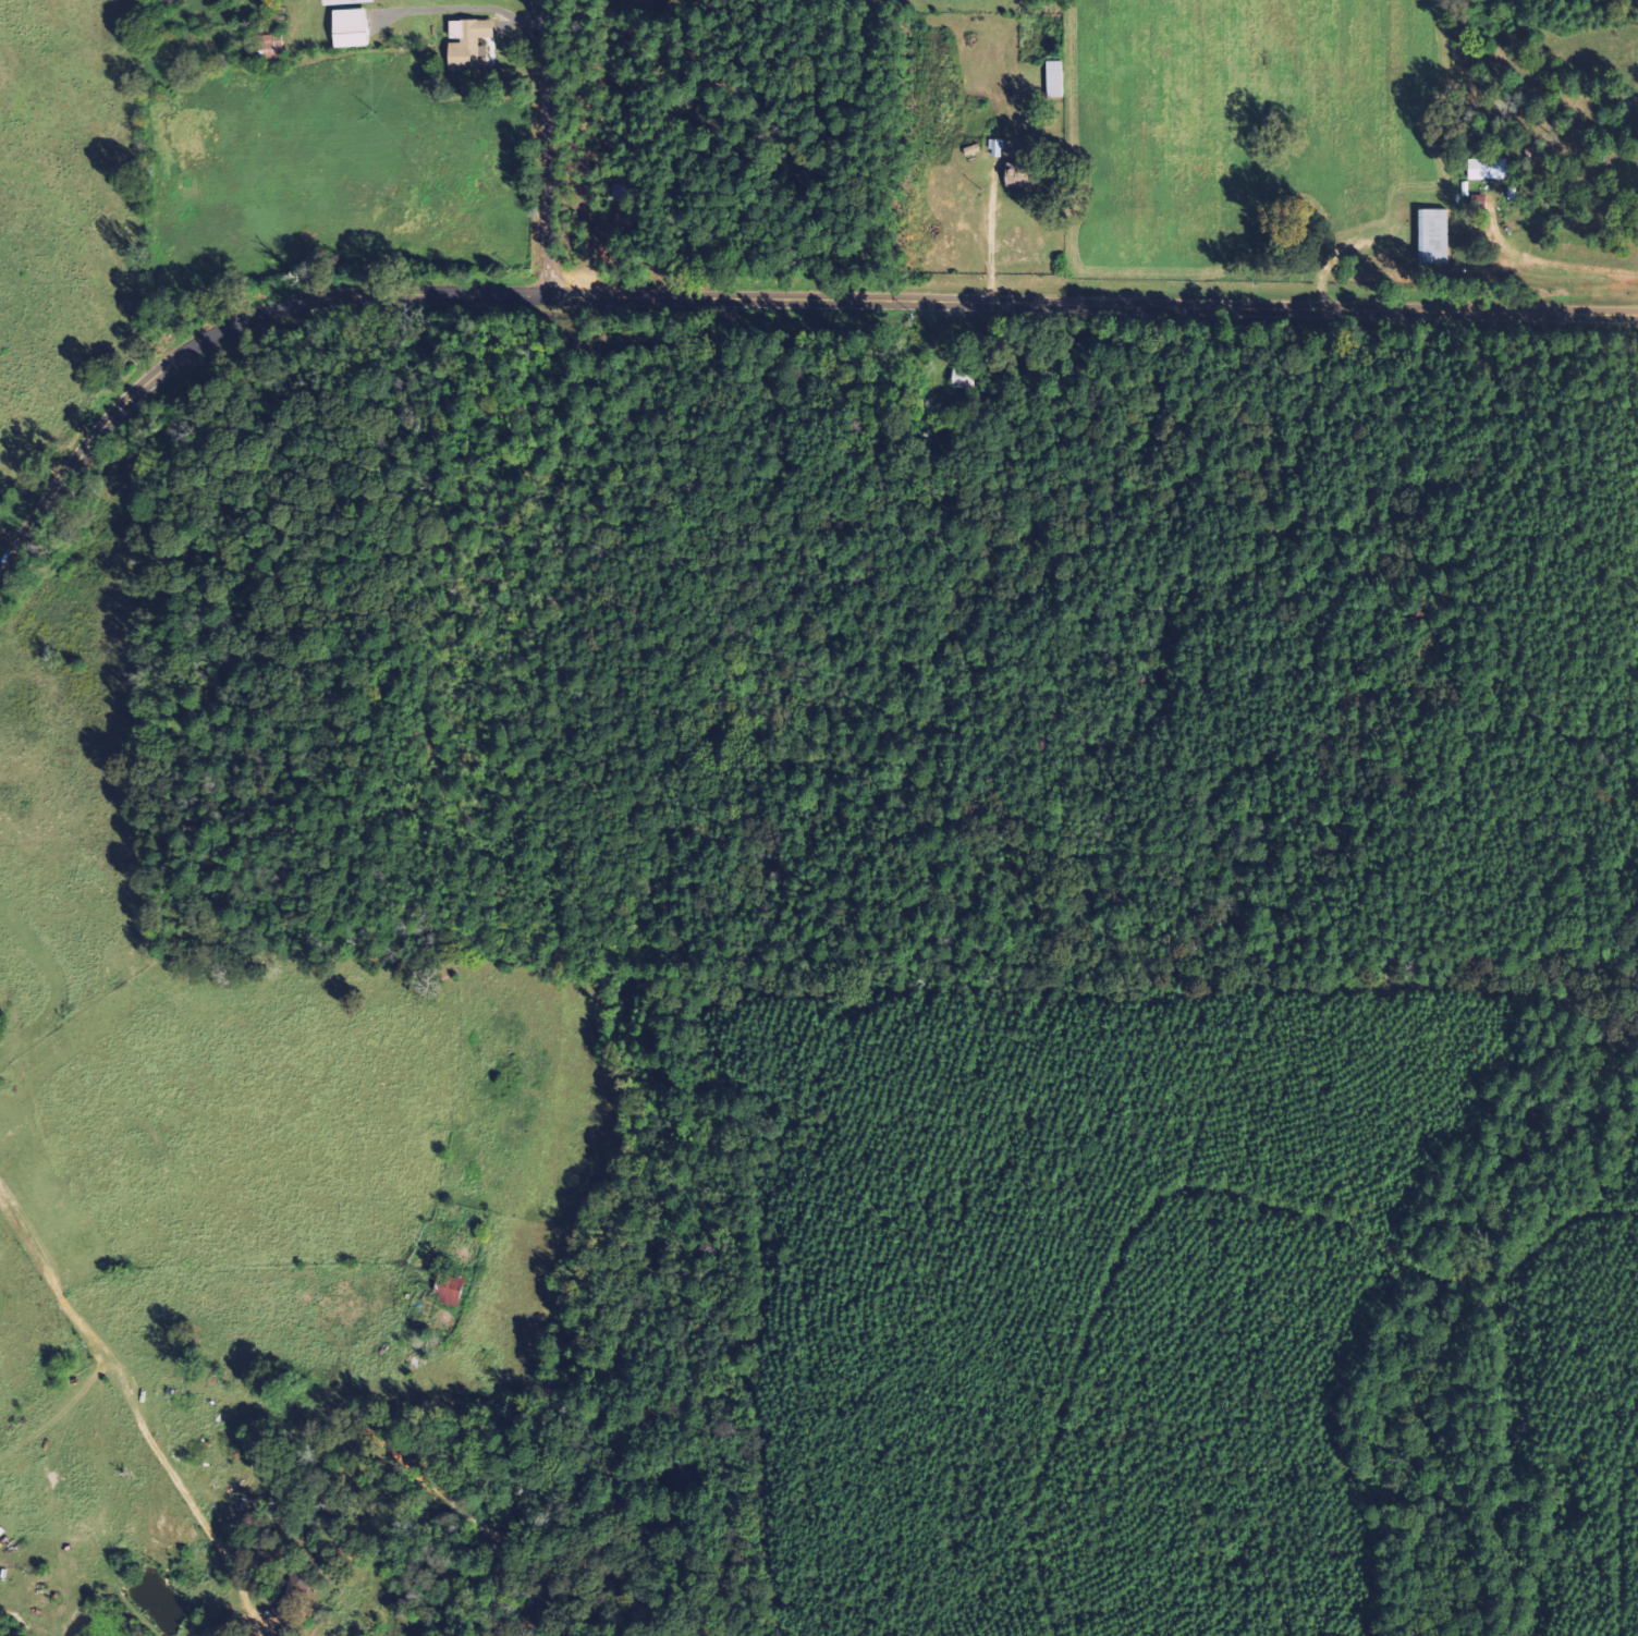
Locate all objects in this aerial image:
building: (347, 2)
building: (351, 28)
building: (472, 44)
building: (273, 48)
building: (1055, 80)
road: (549, 149)
building: (1490, 168)
building: (1435, 235)
road: (759, 301)
building: (966, 378)
road: (135, 1417)

